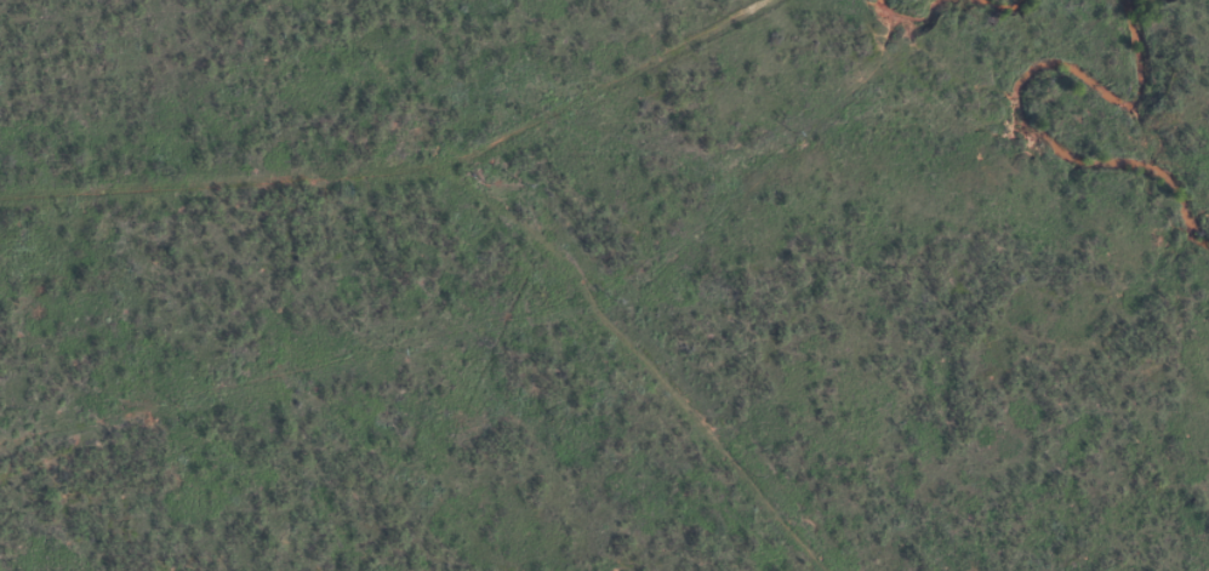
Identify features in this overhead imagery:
road: (449, 64)
road: (398, 178)
road: (583, 379)

